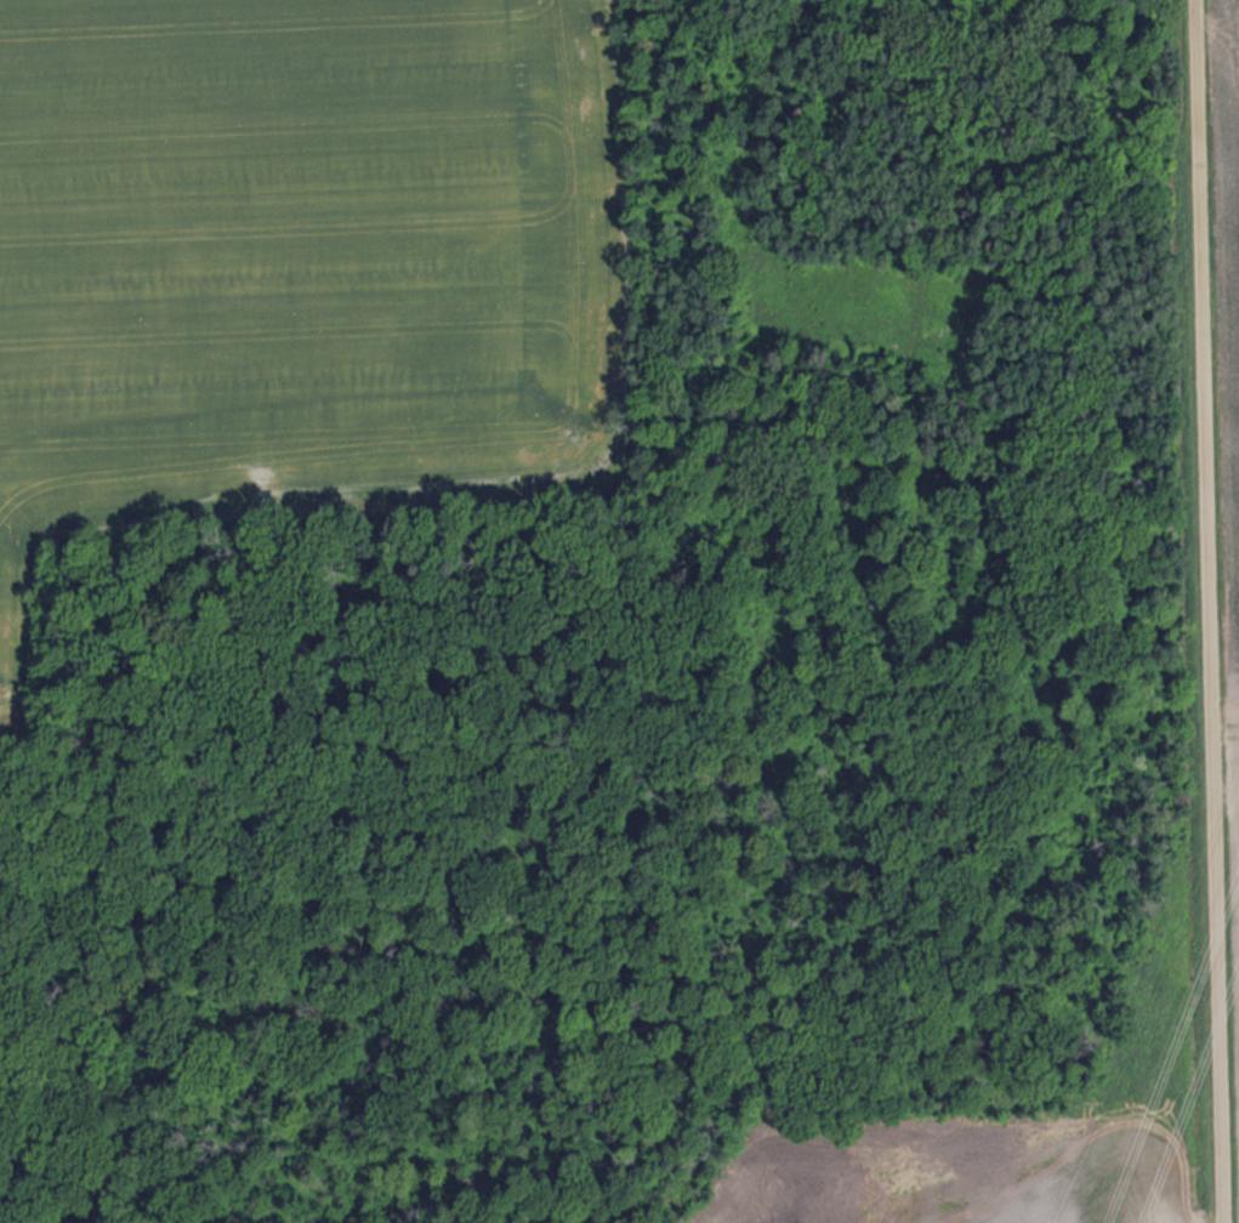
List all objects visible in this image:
road: (1204, 611)

